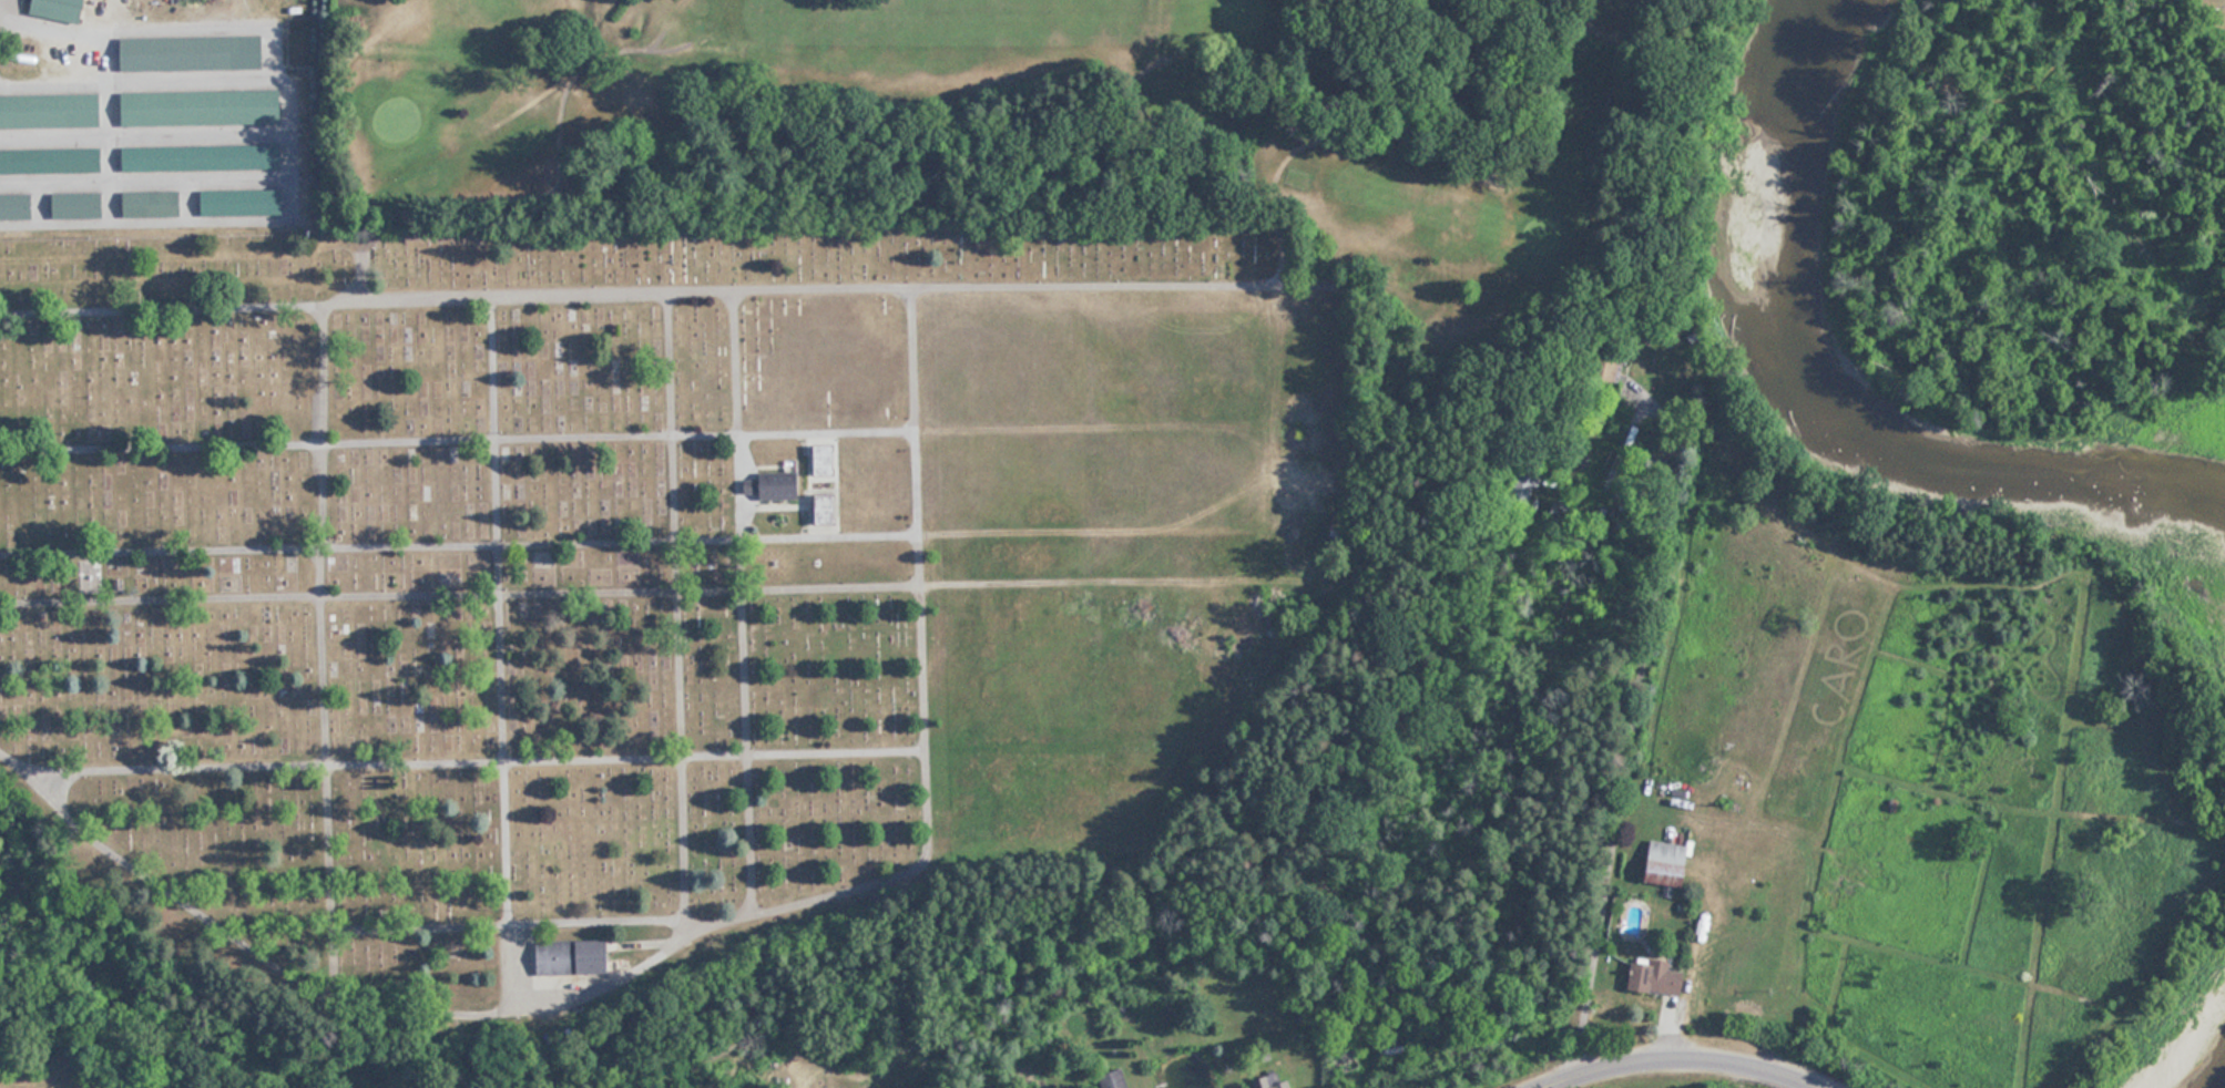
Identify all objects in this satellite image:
building: (63, 9)
building: (193, 53)
building: (203, 107)
building: (51, 111)
park: (1081, 148)
building: (203, 157)
building: (51, 161)
building: (243, 202)
building: (153, 204)
building: (79, 205)
building: (17, 206)
park: (678, 257)
road: (1102, 275)
river: (1837, 392)
road: (458, 428)
road: (737, 428)
building: (825, 460)
building: (775, 474)
road: (919, 494)
building: (828, 509)
road: (676, 513)
road: (460, 530)
road: (460, 582)
park: (631, 623)
road: (325, 637)
road: (501, 688)
road: (1607, 766)
road: (748, 776)
building: (1671, 859)
road: (894, 866)
road: (147, 882)
road: (542, 909)
building: (574, 946)
road: (610, 969)
building: (1662, 977)
road: (1672, 1058)
river: (2207, 1067)
building: (1116, 1079)
building: (1274, 1080)

